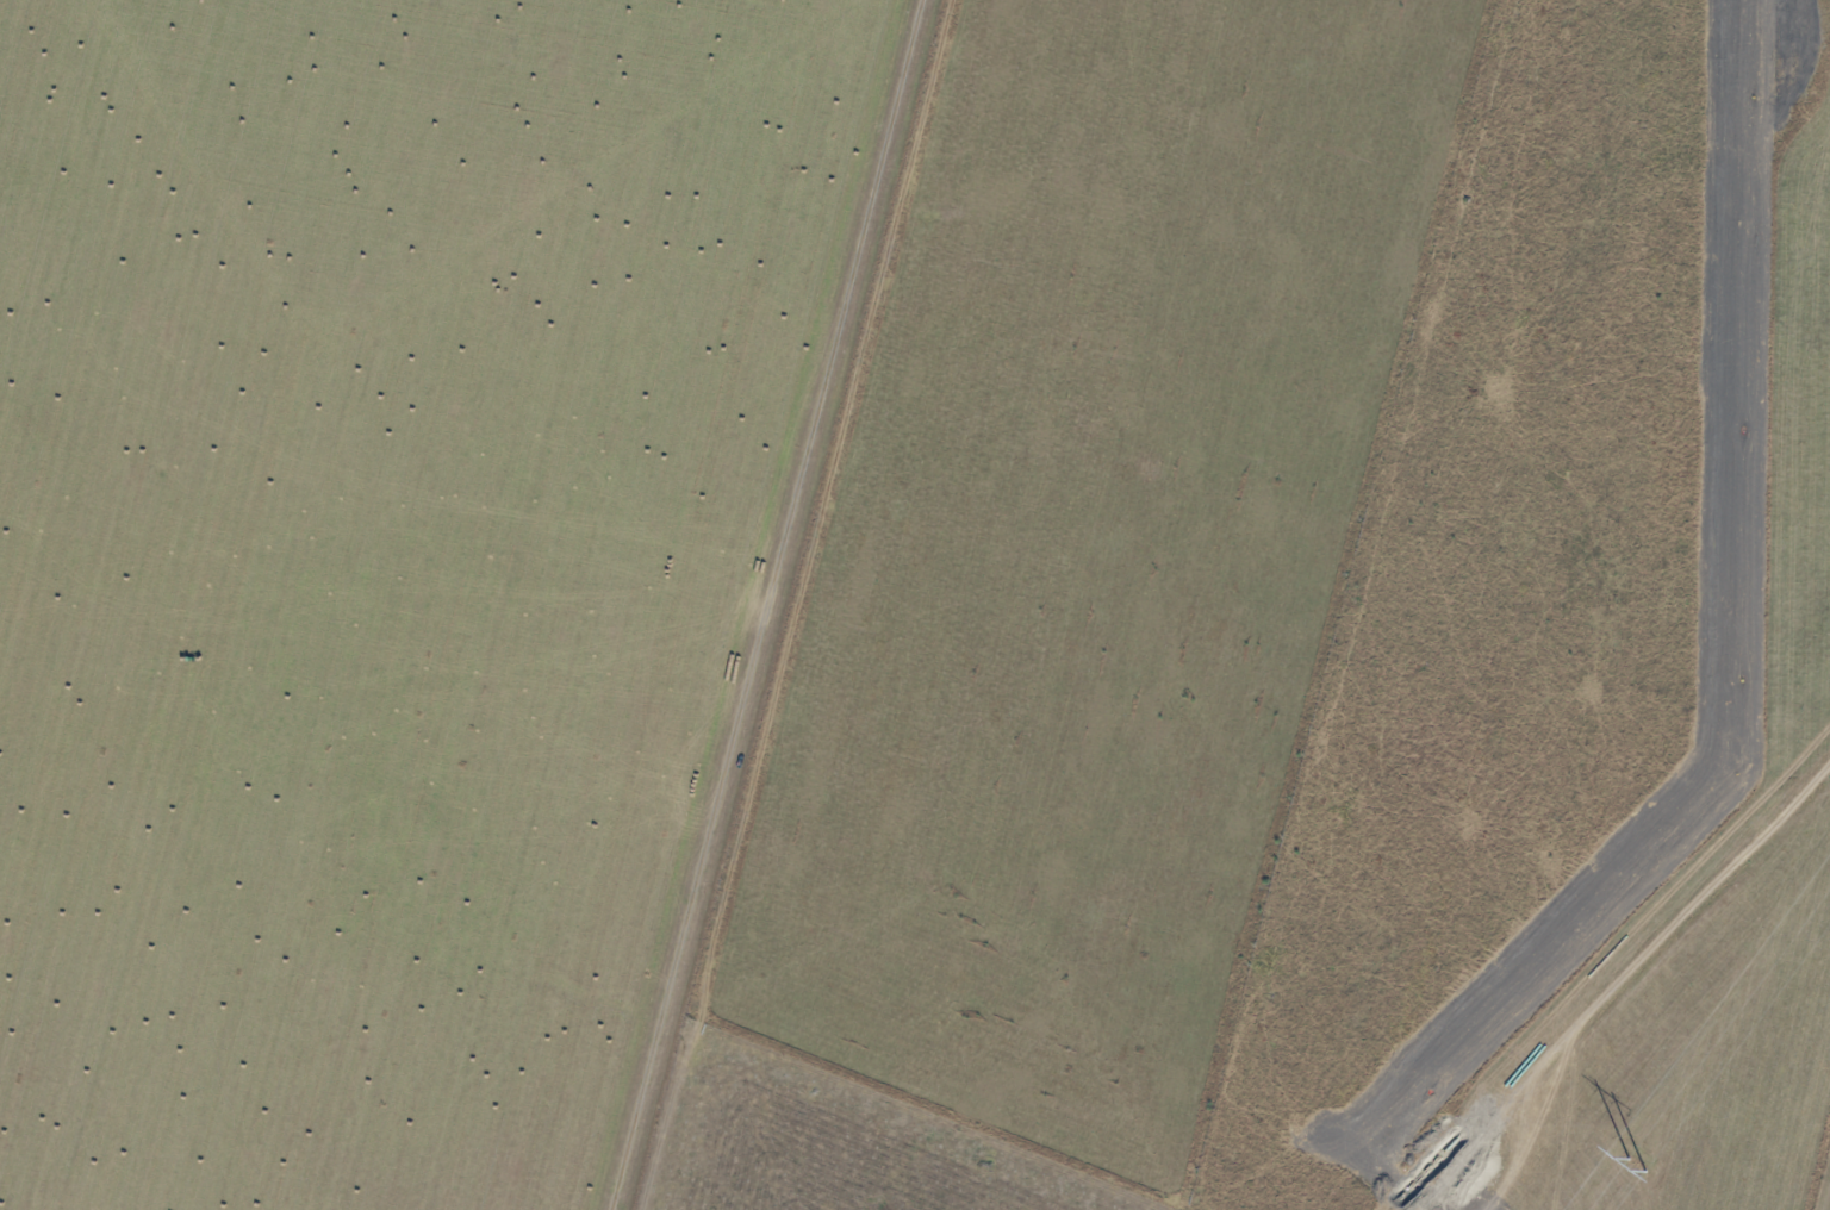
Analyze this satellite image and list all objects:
power tower: (1645, 1159)

